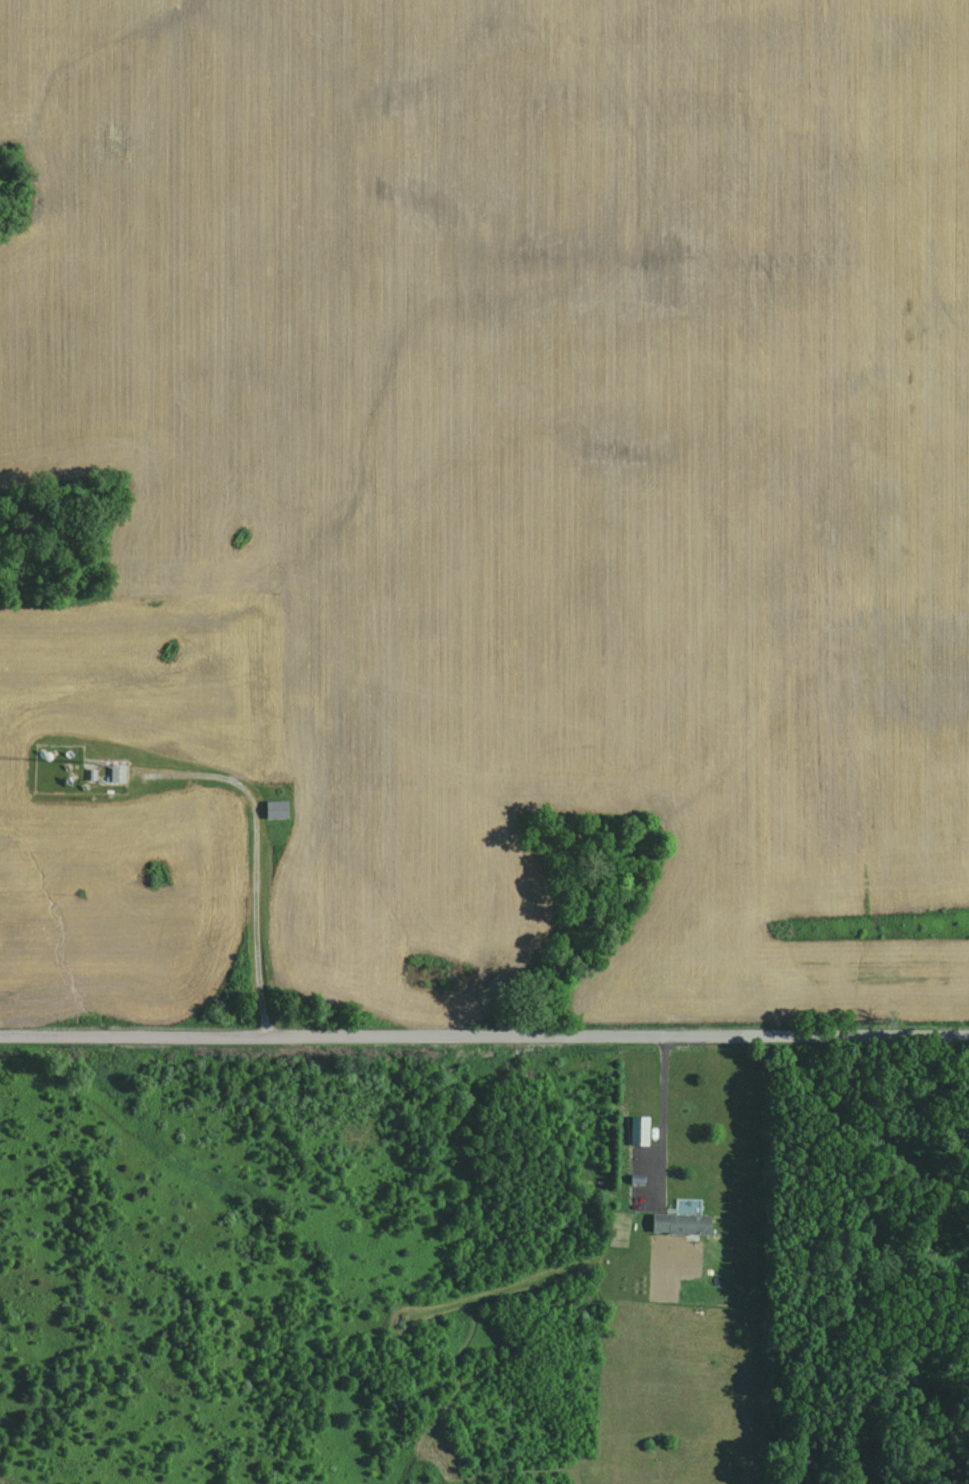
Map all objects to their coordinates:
building: (117, 772)
building: (275, 808)
road: (256, 857)
road: (484, 1033)
road: (663, 1119)
building: (679, 1223)

